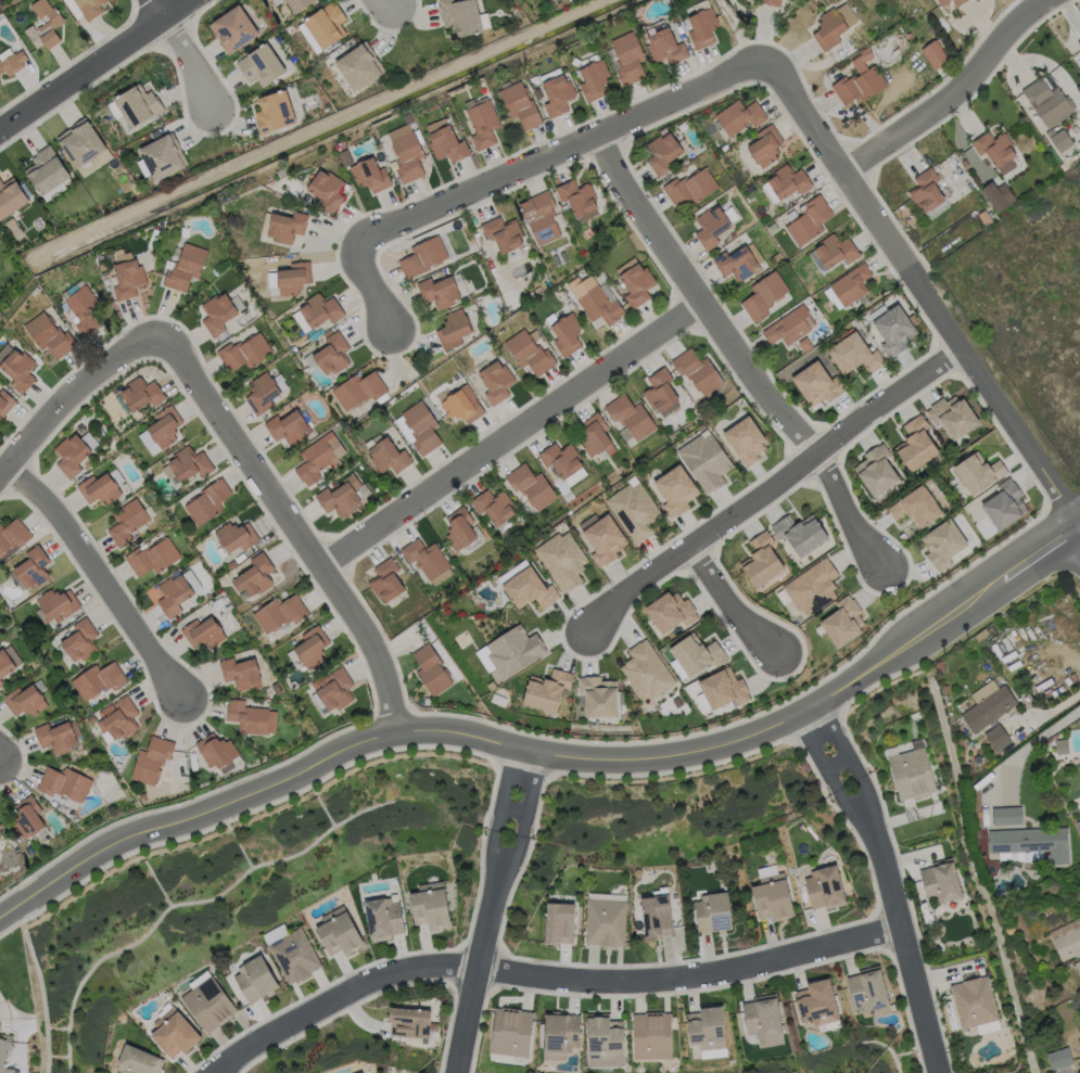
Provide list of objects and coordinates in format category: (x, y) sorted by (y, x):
building: (790, 0)
building: (770, 2)
building: (295, 4)
building: (943, 4)
building: (85, 9)
road: (390, 10)
building: (461, 17)
building: (834, 24)
building: (323, 25)
building: (45, 26)
building: (701, 28)
building: (230, 29)
building: (1078, 41)
building: (665, 47)
building: (935, 54)
building: (628, 55)
road: (185, 58)
building: (11, 62)
road: (94, 64)
building: (259, 65)
building: (357, 67)
building: (592, 79)
building: (859, 81)
road: (953, 94)
building: (557, 95)
building: (135, 106)
building: (520, 106)
building: (1050, 106)
building: (272, 113)
building: (738, 118)
building: (482, 122)
building: (154, 133)
building: (445, 140)
building: (765, 146)
building: (81, 148)
building: (994, 150)
building: (122, 153)
building: (662, 154)
building: (406, 156)
building: (161, 157)
road: (517, 170)
building: (45, 175)
building: (370, 176)
building: (787, 182)
building: (690, 188)
building: (925, 189)
building: (326, 191)
building: (998, 195)
building: (9, 199)
building: (579, 201)
building: (539, 218)
building: (808, 219)
building: (283, 226)
building: (711, 228)
building: (501, 234)
building: (0, 238)
building: (835, 251)
building: (422, 258)
building: (735, 265)
building: (182, 268)
building: (288, 278)
building: (126, 280)
building: (850, 285)
building: (635, 286)
building: (439, 293)
road: (924, 294)
building: (764, 296)
building: (596, 301)
building: (82, 311)
building: (316, 312)
building: (216, 315)
building: (790, 328)
building: (453, 329)
building: (50, 332)
building: (893, 332)
building: (563, 334)
building: (242, 354)
building: (530, 355)
road: (734, 355)
building: (328, 356)
building: (853, 356)
building: (18, 366)
building: (696, 372)
building: (495, 382)
building: (817, 385)
building: (139, 392)
building: (357, 392)
building: (261, 394)
road: (69, 396)
building: (659, 396)
building: (5, 400)
building: (460, 406)
building: (952, 418)
building: (628, 420)
building: (285, 427)
building: (419, 429)
building: (161, 430)
road: (511, 434)
building: (594, 437)
building: (746, 443)
building: (916, 447)
building: (74, 449)
building: (387, 458)
building: (317, 459)
building: (561, 462)
building: (187, 463)
building: (706, 463)
building: (876, 471)
building: (978, 475)
building: (574, 476)
building: (101, 485)
road: (767, 486)
building: (530, 488)
building: (675, 493)
building: (340, 497)
building: (207, 498)
building: (1005, 506)
building: (495, 509)
building: (916, 510)
building: (635, 514)
building: (127, 520)
road: (293, 526)
building: (458, 529)
road: (1078, 533)
building: (236, 534)
building: (12, 535)
building: (800, 536)
building: (602, 540)
building: (944, 546)
building: (153, 554)
building: (423, 559)
building: (562, 561)
building: (757, 564)
building: (33, 565)
building: (254, 573)
road: (102, 579)
building: (384, 583)
building: (177, 589)
building: (812, 589)
building: (529, 591)
building: (58, 602)
road: (729, 603)
building: (279, 611)
building: (669, 614)
building: (843, 624)
building: (203, 630)
building: (80, 638)
building: (309, 646)
building: (509, 653)
building: (696, 656)
building: (8, 657)
building: (241, 670)
building: (430, 670)
building: (646, 673)
building: (98, 678)
building: (0, 681)
building: (0, 684)
building: (333, 689)
building: (722, 691)
building: (546, 693)
building: (25, 698)
building: (597, 698)
building: (986, 704)
building: (252, 716)
building: (116, 717)
road: (764, 731)
building: (55, 735)
building: (996, 738)
road: (1029, 741)
building: (1060, 746)
building: (217, 748)
building: (152, 758)
building: (911, 774)
building: (65, 782)
building: (27, 815)
building: (1005, 816)
road: (192, 817)
building: (0, 823)
building: (1032, 842)
building: (940, 882)
building: (828, 883)
road: (887, 885)
building: (775, 894)
building: (431, 903)
building: (715, 909)
road: (488, 911)
building: (660, 915)
building: (385, 916)
building: (562, 920)
building: (607, 920)
building: (341, 930)
building: (1067, 945)
building: (294, 954)
building: (1077, 967)
road: (545, 975)
building: (256, 978)
building: (869, 985)
building: (821, 999)
building: (975, 999)
building: (208, 1000)
building: (764, 1018)
building: (411, 1020)
building: (709, 1024)
building: (984, 1027)
building: (510, 1030)
road: (16, 1031)
building: (175, 1031)
building: (559, 1033)
building: (651, 1033)
building: (605, 1038)
building: (1079, 1042)
building: (4, 1051)
building: (138, 1060)
building: (1058, 1061)
building: (363, 1072)

